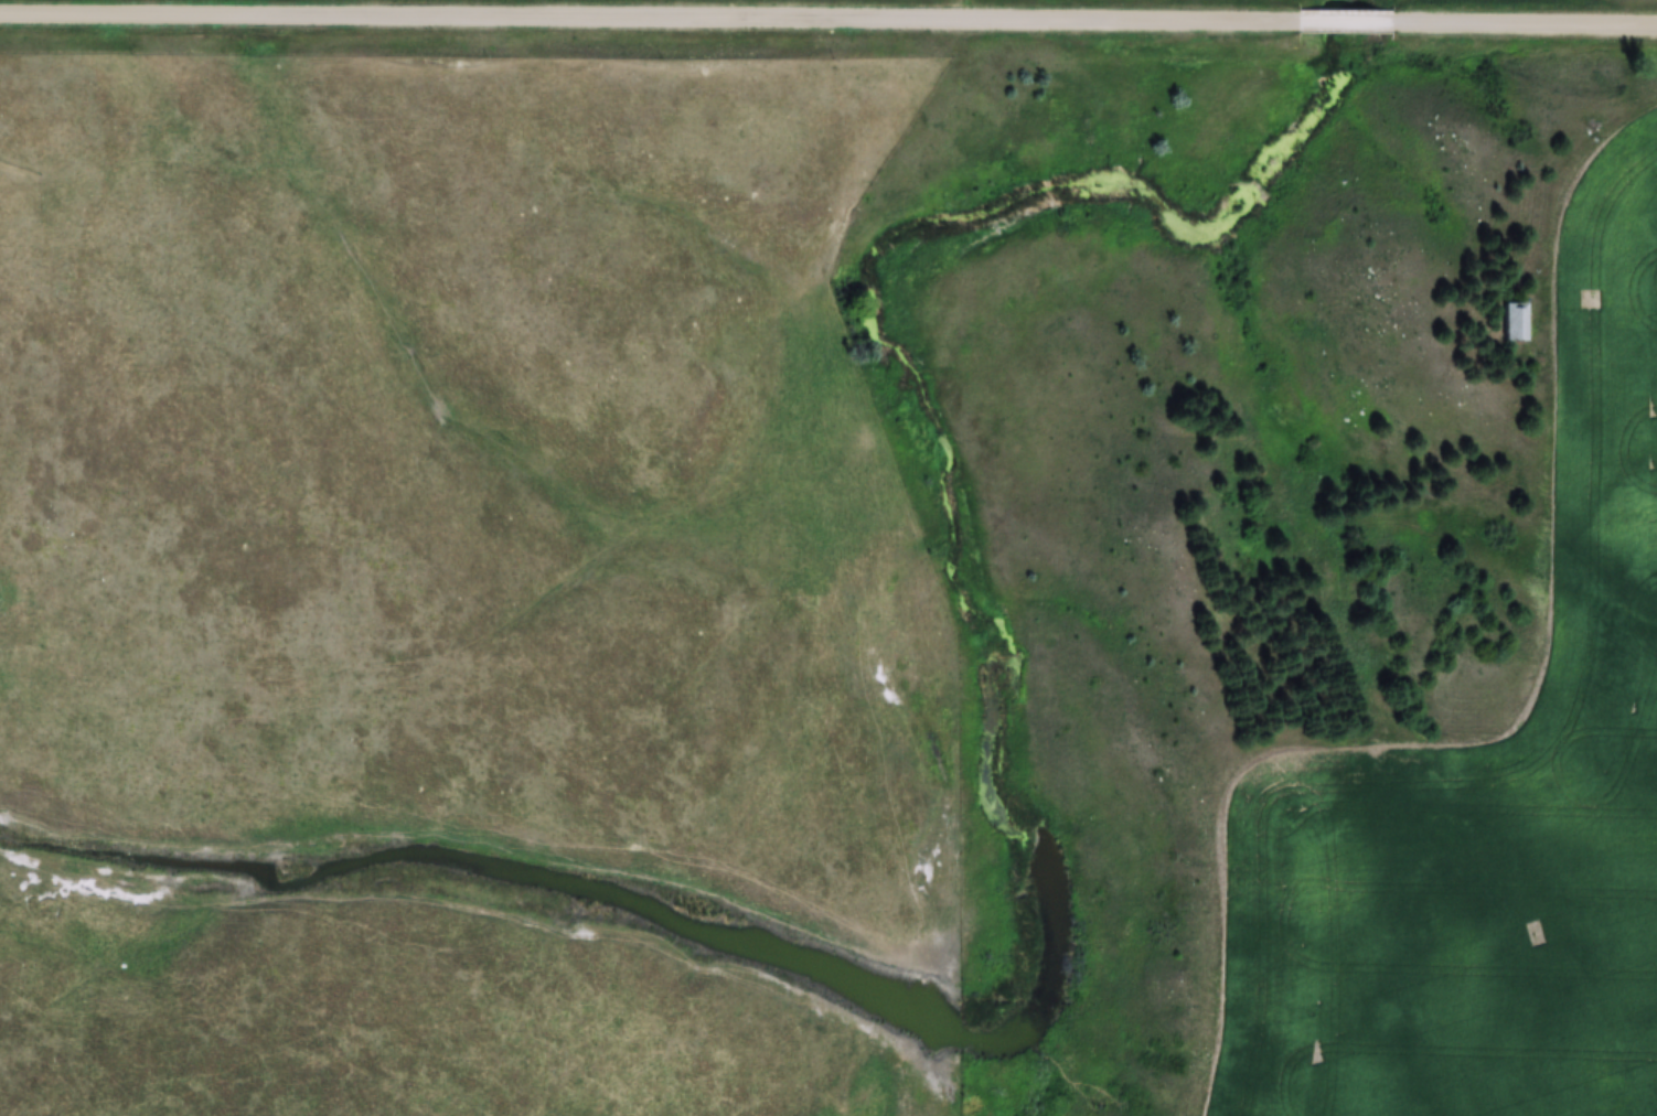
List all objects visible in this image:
road: (649, 15)
road: (1341, 21)
road: (1521, 22)
building: (1514, 321)

